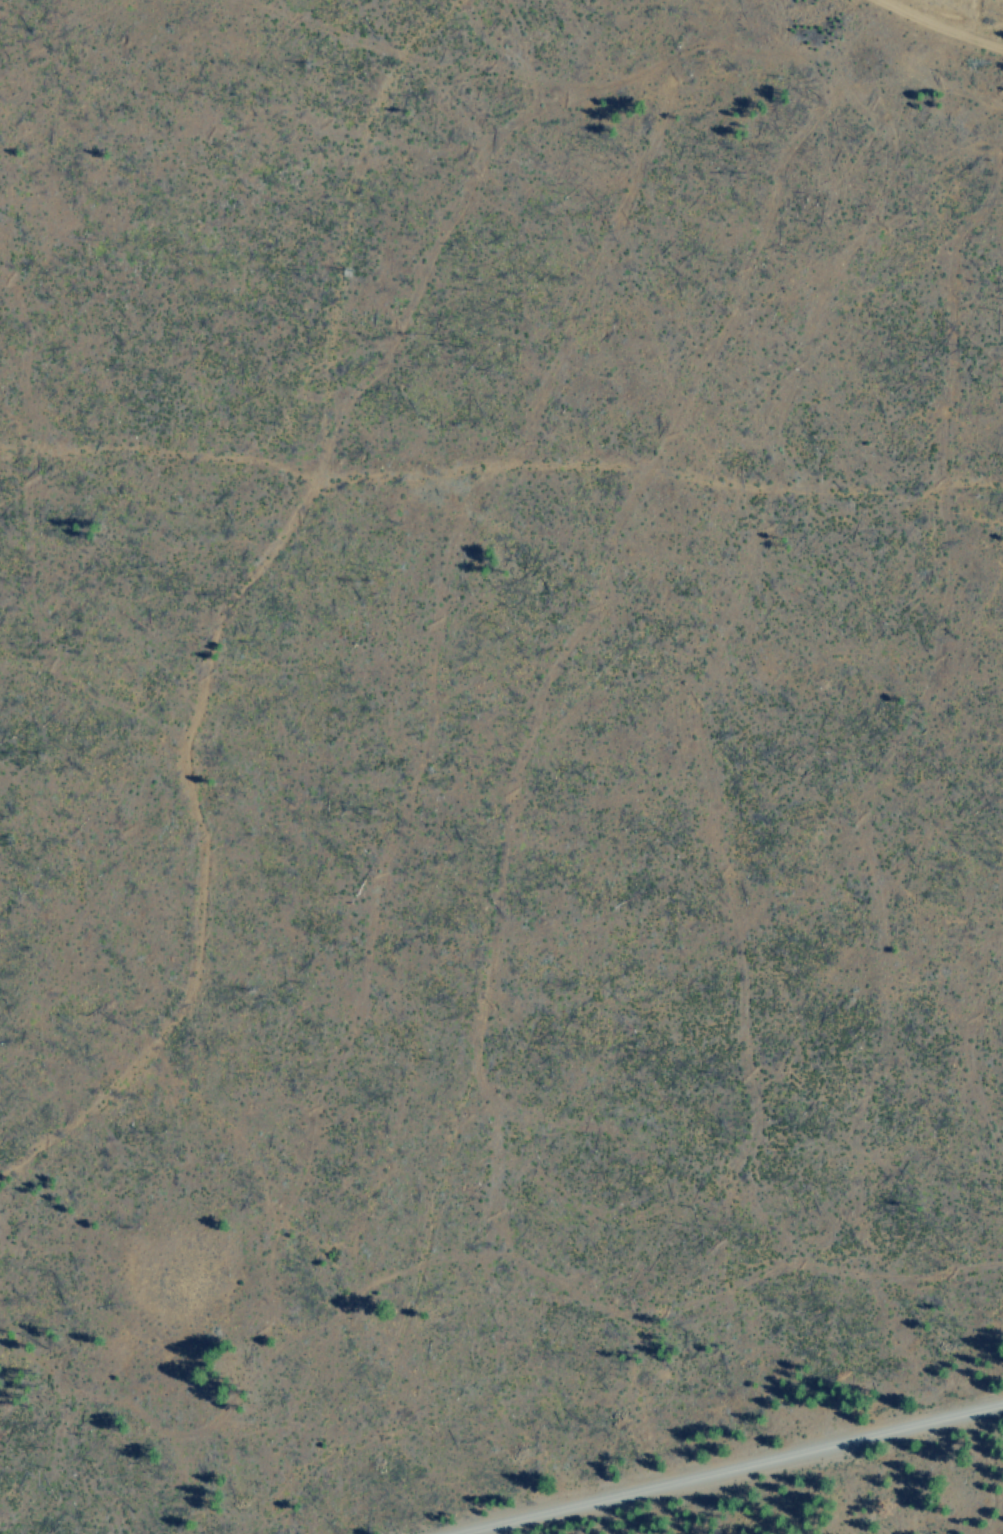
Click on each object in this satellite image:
road: (295, 528)
road: (573, 1428)

